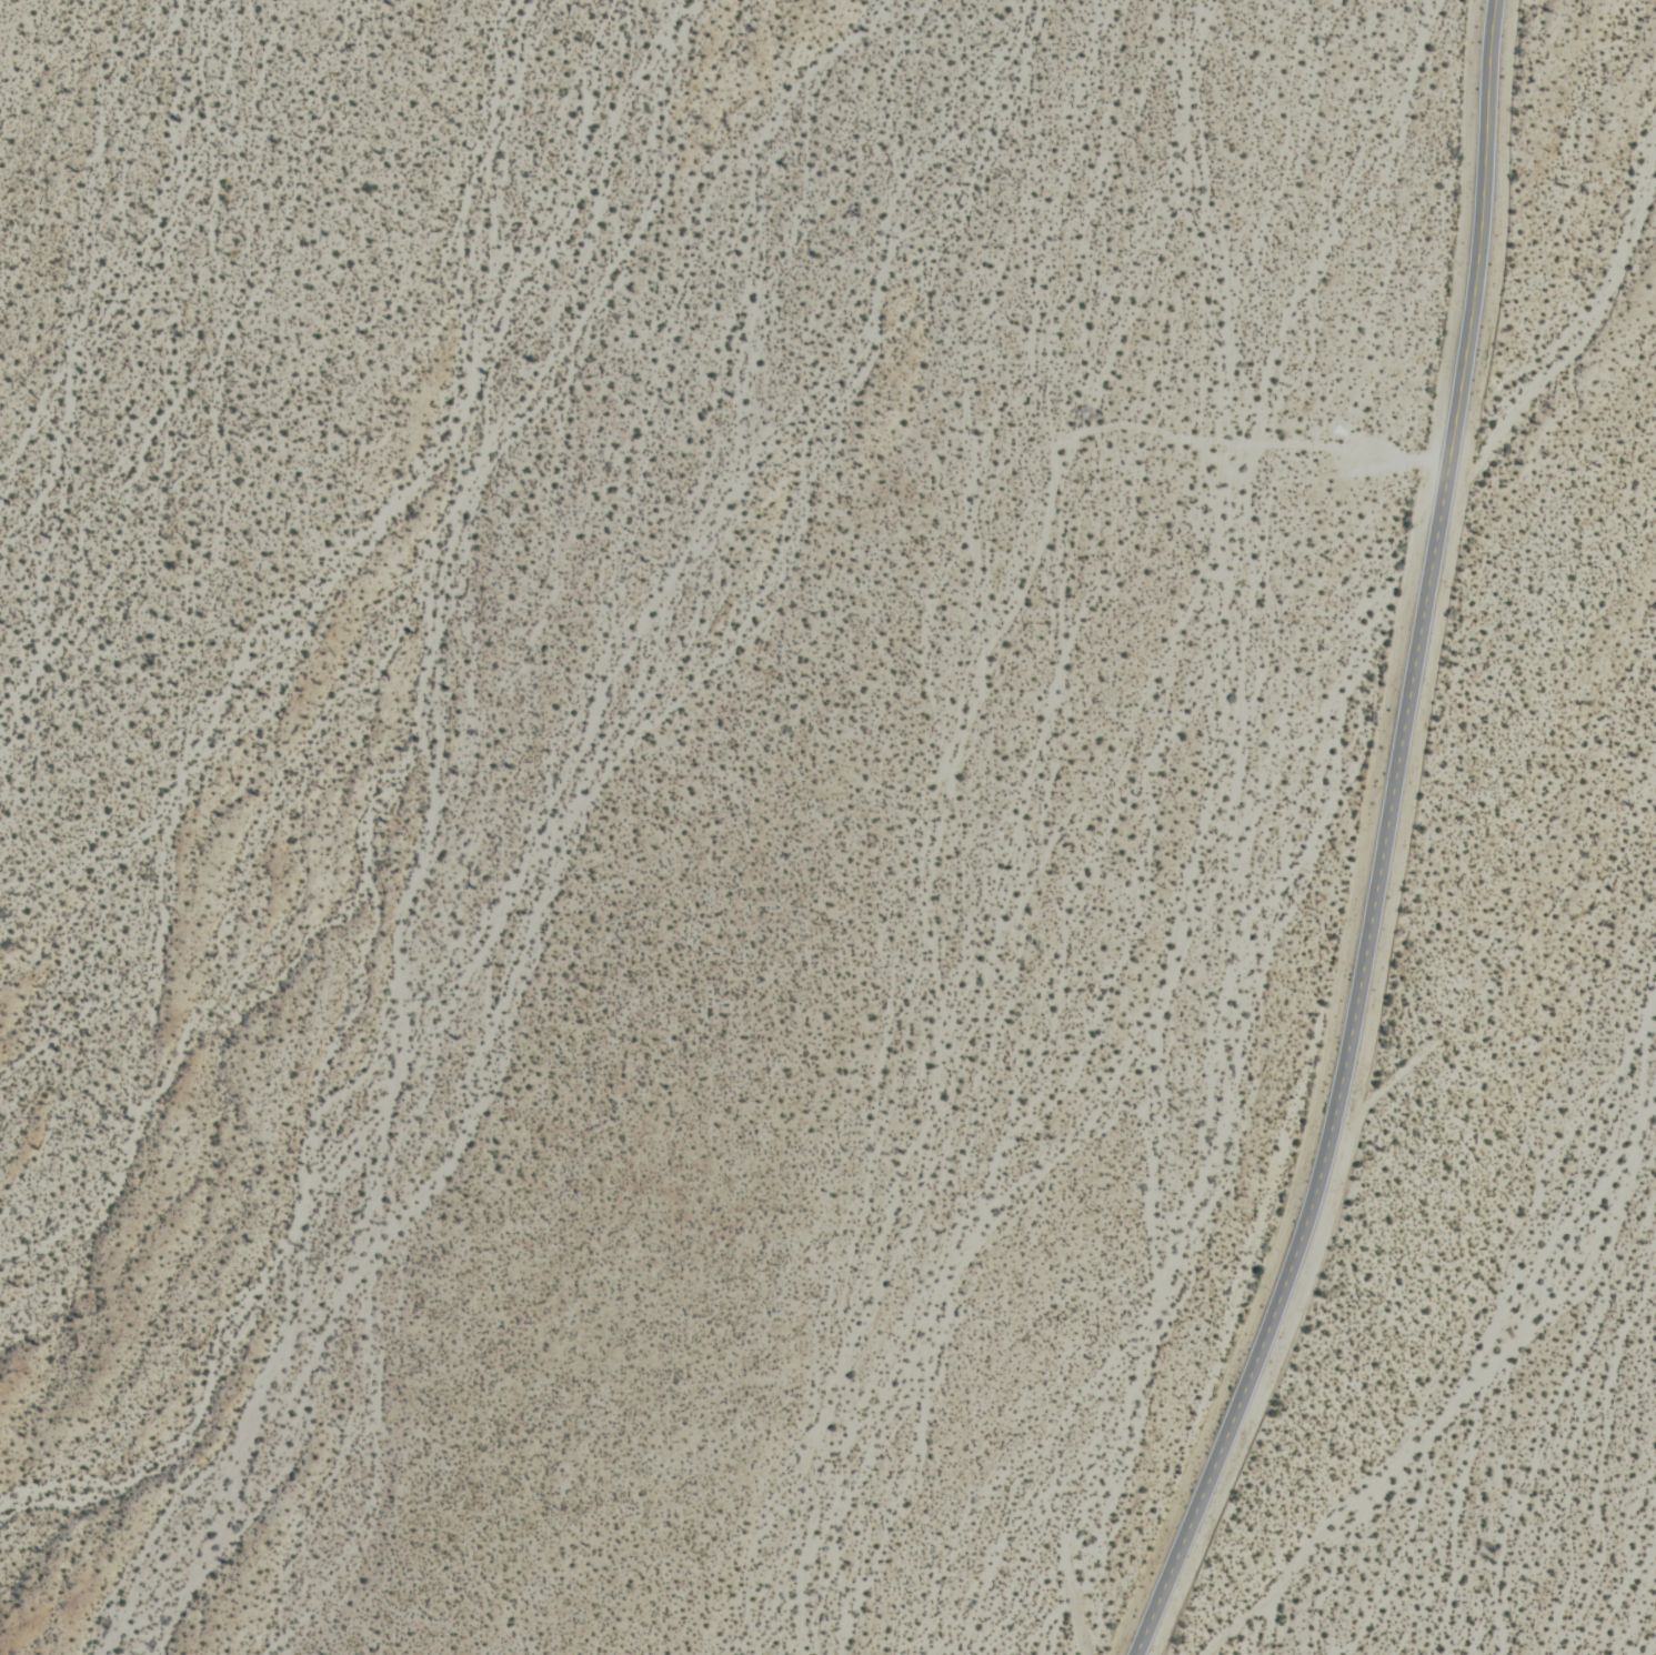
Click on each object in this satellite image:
road: (1385, 843)

